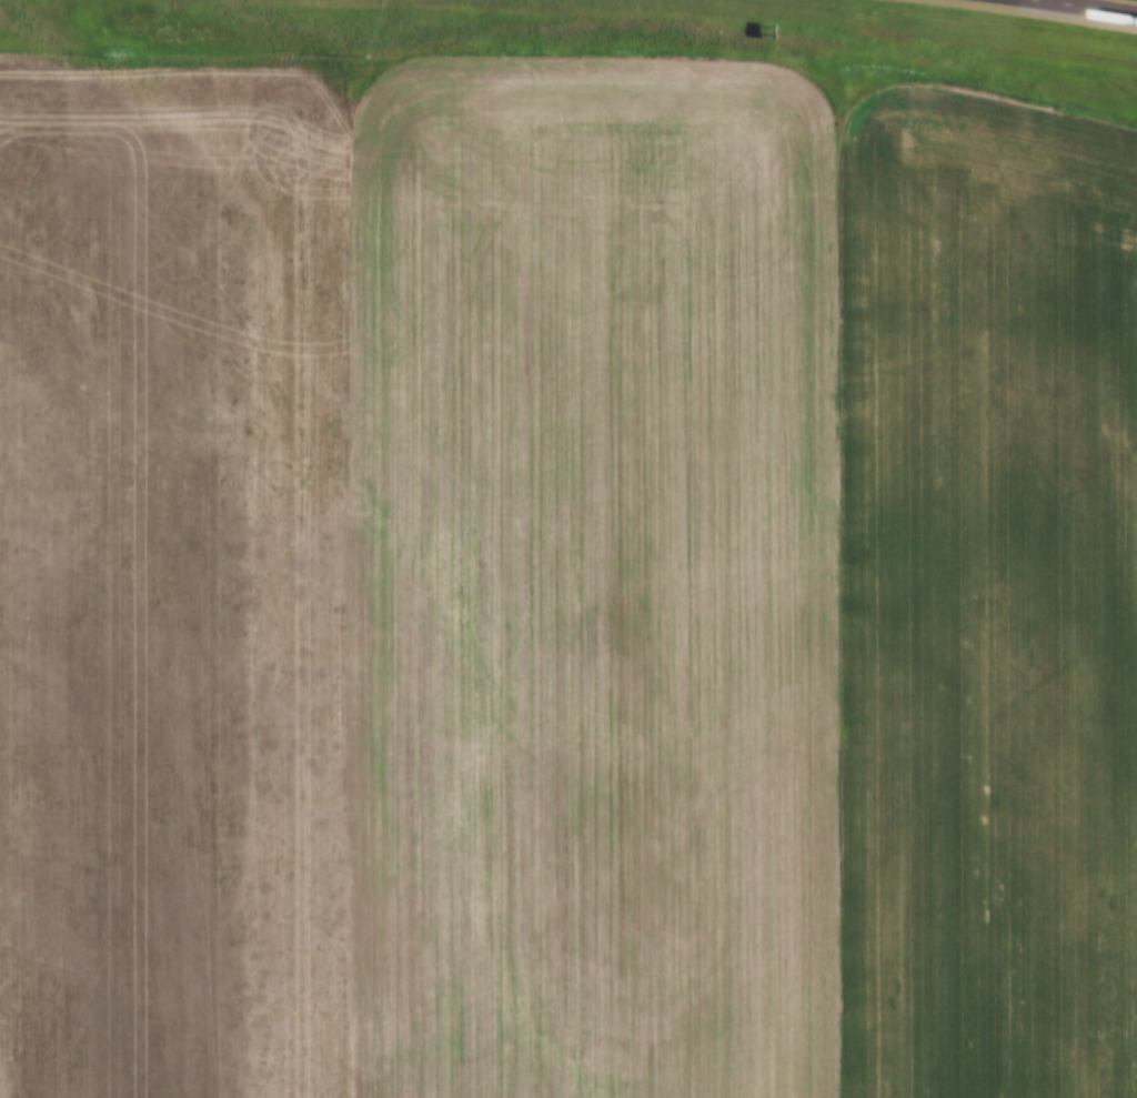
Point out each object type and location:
road: (1050, 11)

